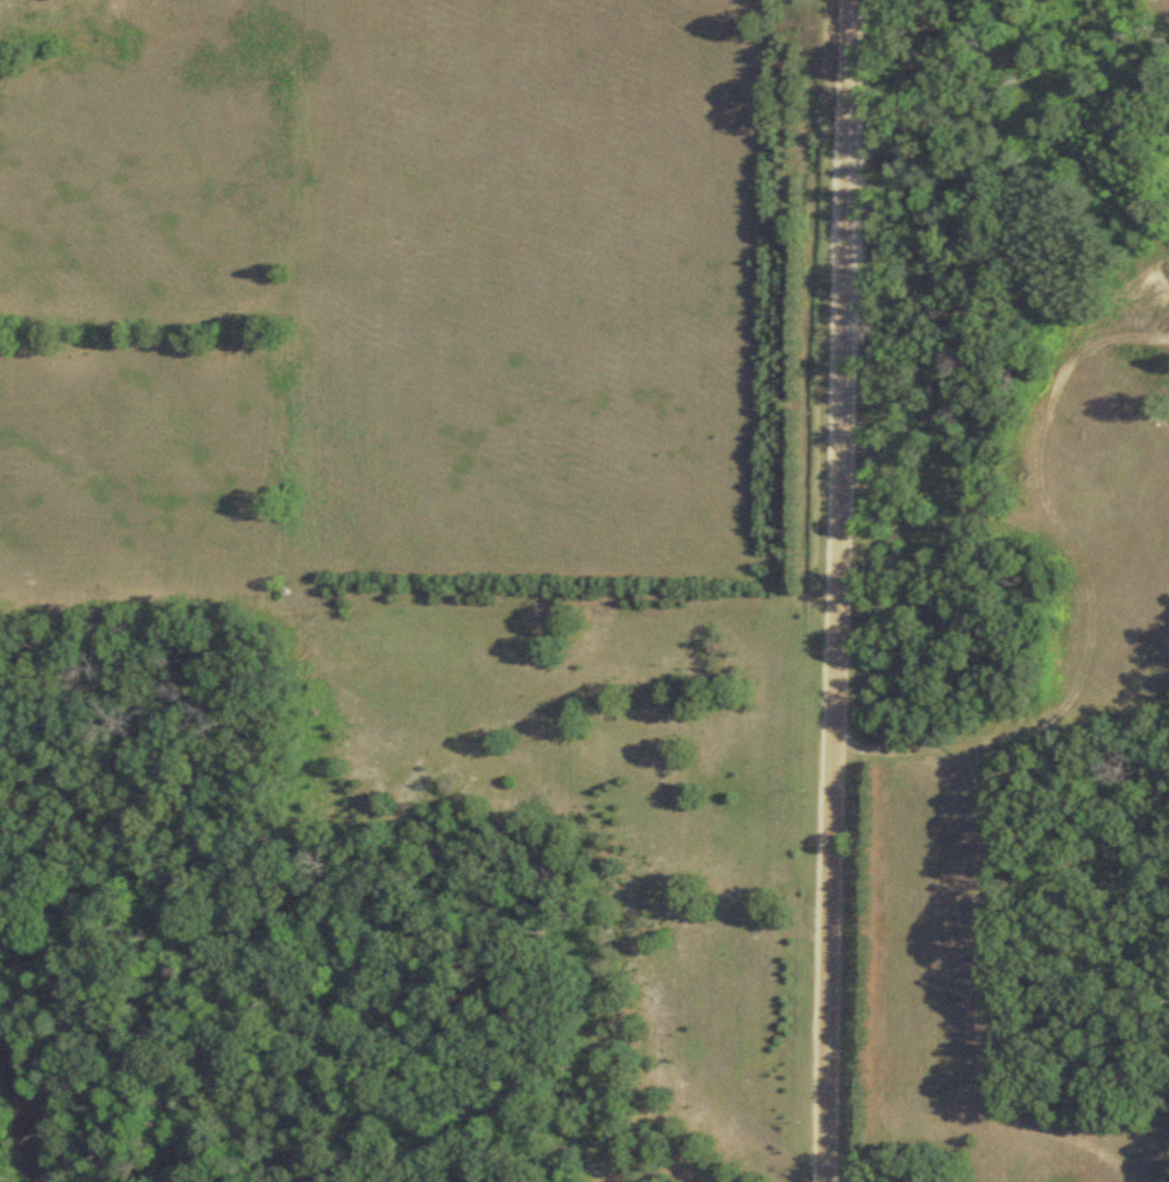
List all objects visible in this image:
road: (840, 590)
river: (25, 1104)

